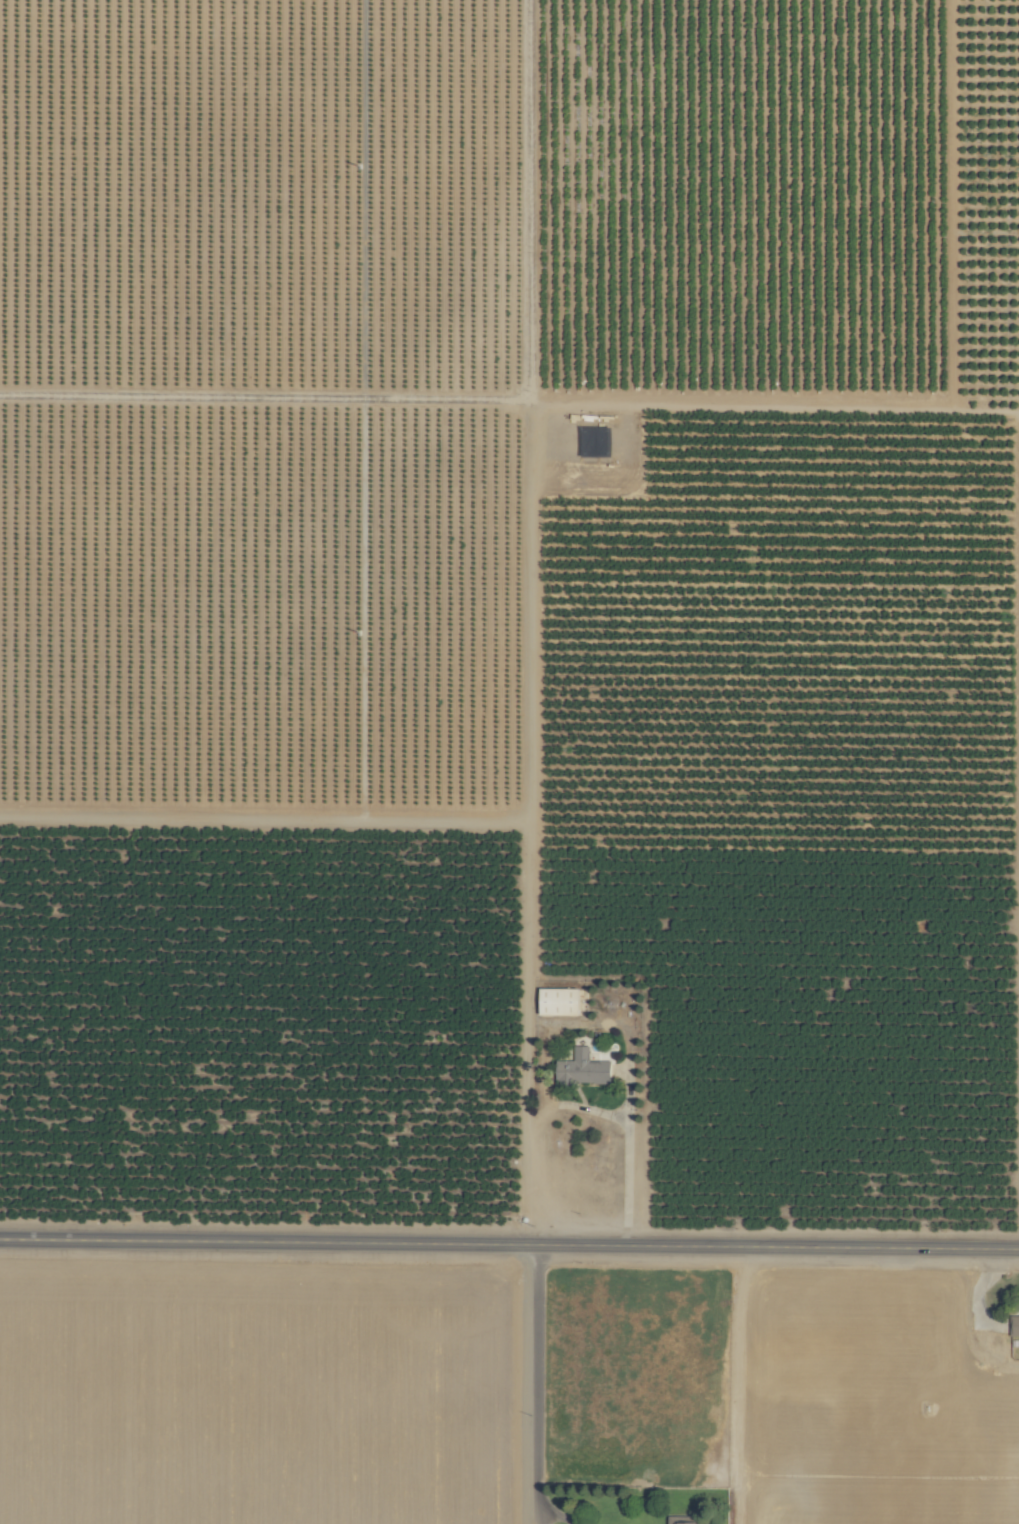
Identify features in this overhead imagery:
crop: (509, 762)
building: (560, 1000)
building: (586, 1068)
road: (576, 1111)
road: (509, 1245)
road: (974, 1301)
building: (1012, 1326)
road: (893, 1369)
road: (536, 1383)
road: (745, 1385)
road: (554, 1515)
building: (682, 1520)

